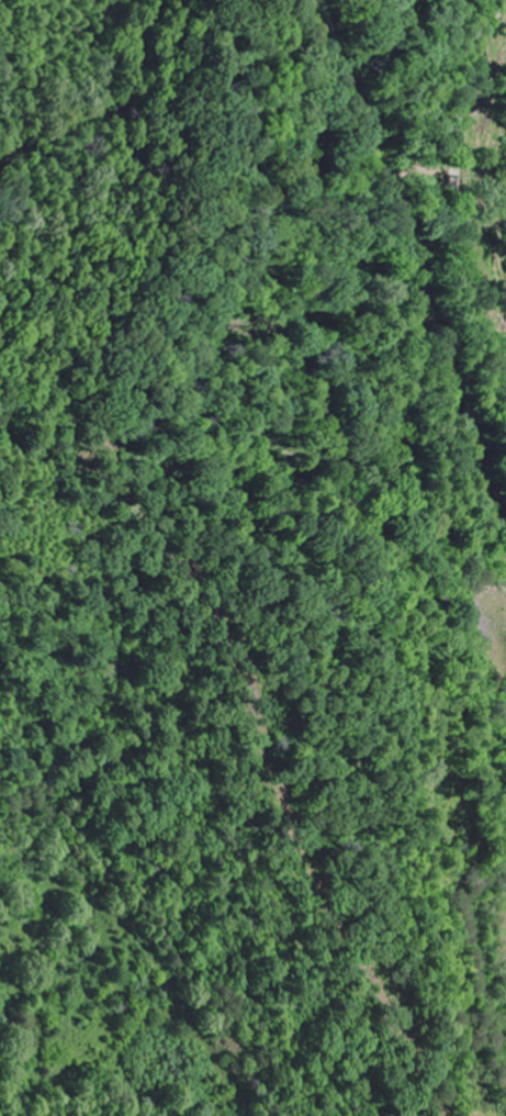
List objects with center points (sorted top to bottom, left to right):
road: (460, 186)

